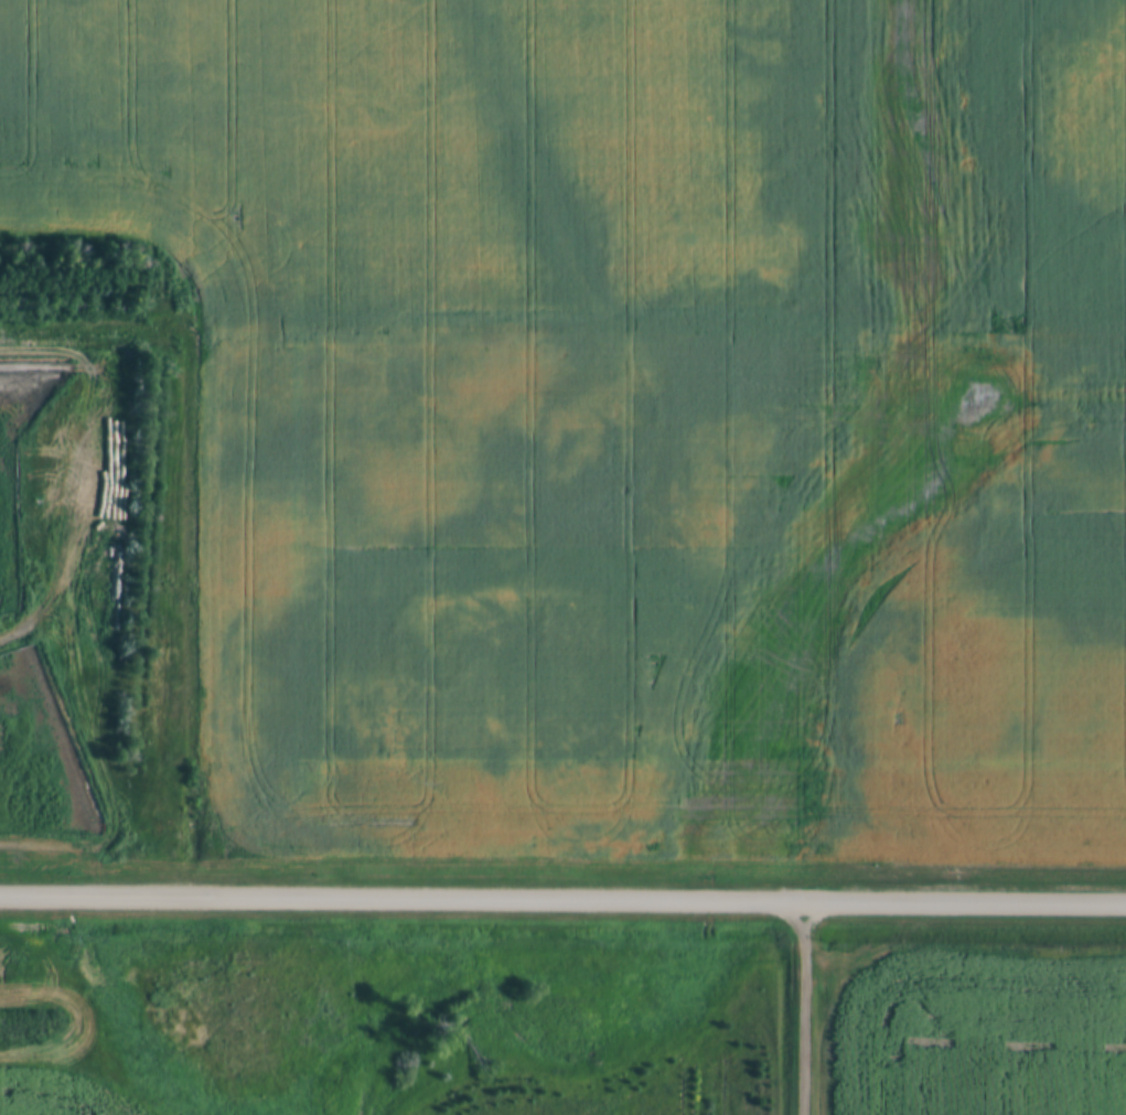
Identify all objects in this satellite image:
road: (39, 498)
road: (562, 901)
road: (800, 1009)

